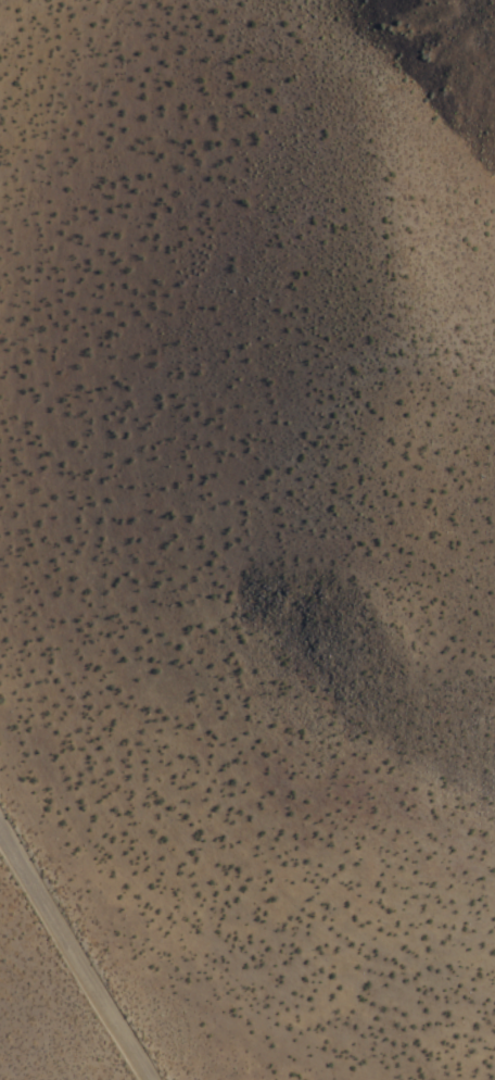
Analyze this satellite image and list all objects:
road: (60, 980)

